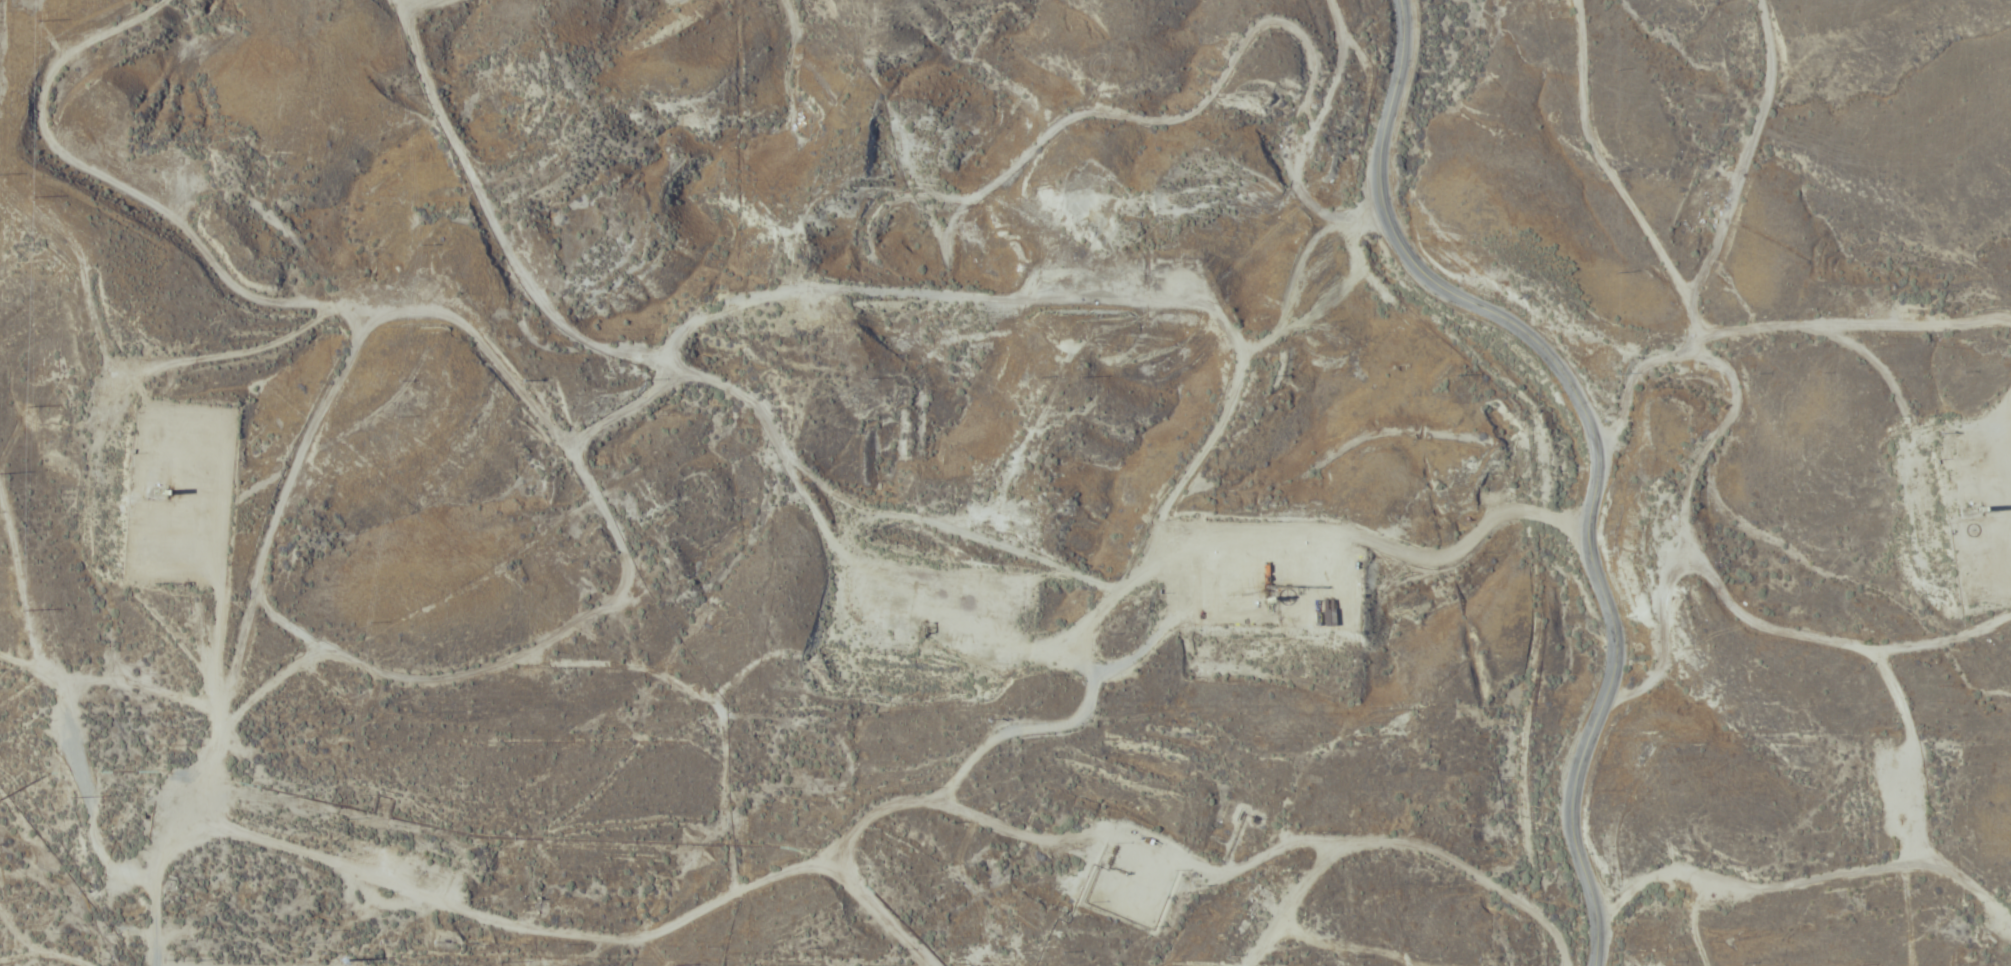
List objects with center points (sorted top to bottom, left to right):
road: (1594, 443)
road: (805, 475)
road: (1844, 606)

